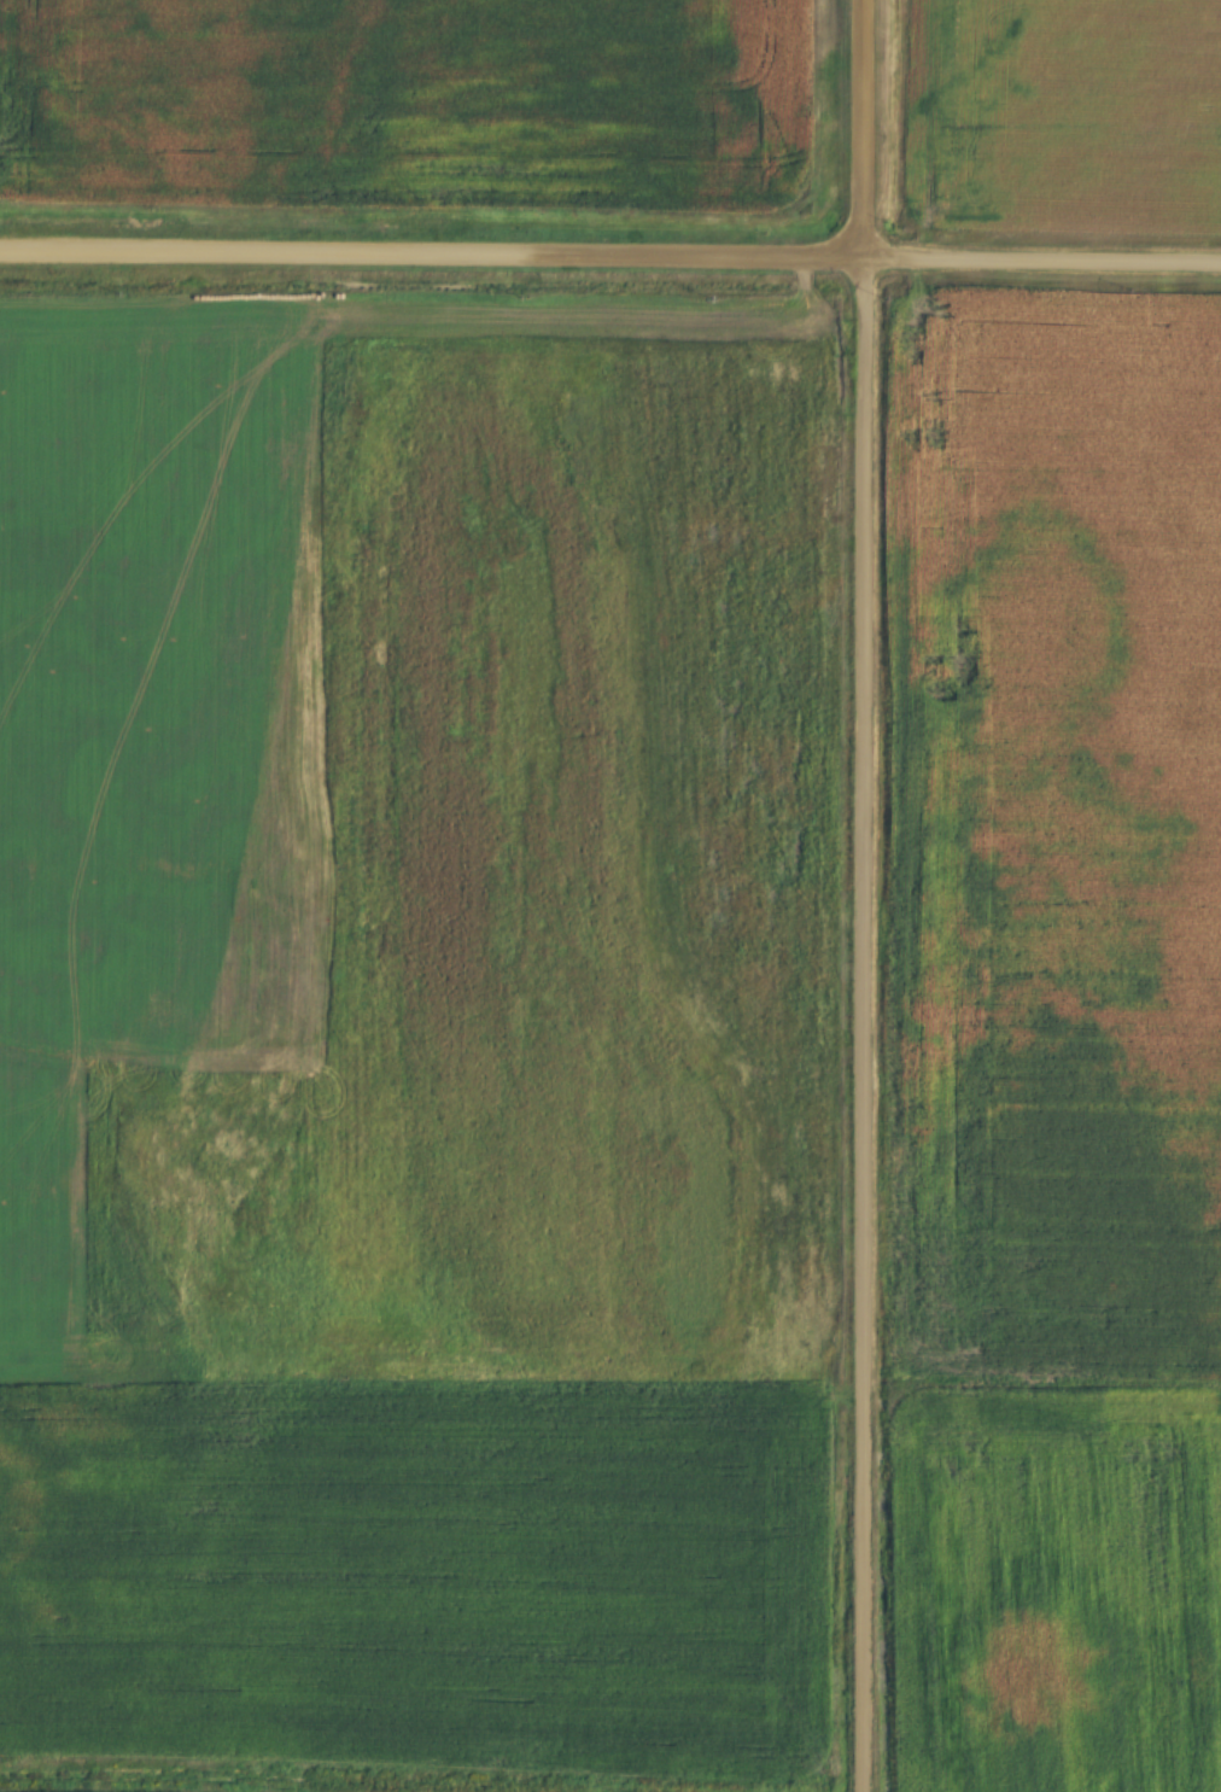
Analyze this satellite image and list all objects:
crop: (1067, 116)
road: (861, 129)
road: (431, 253)
road: (1041, 262)
road: (859, 1025)

